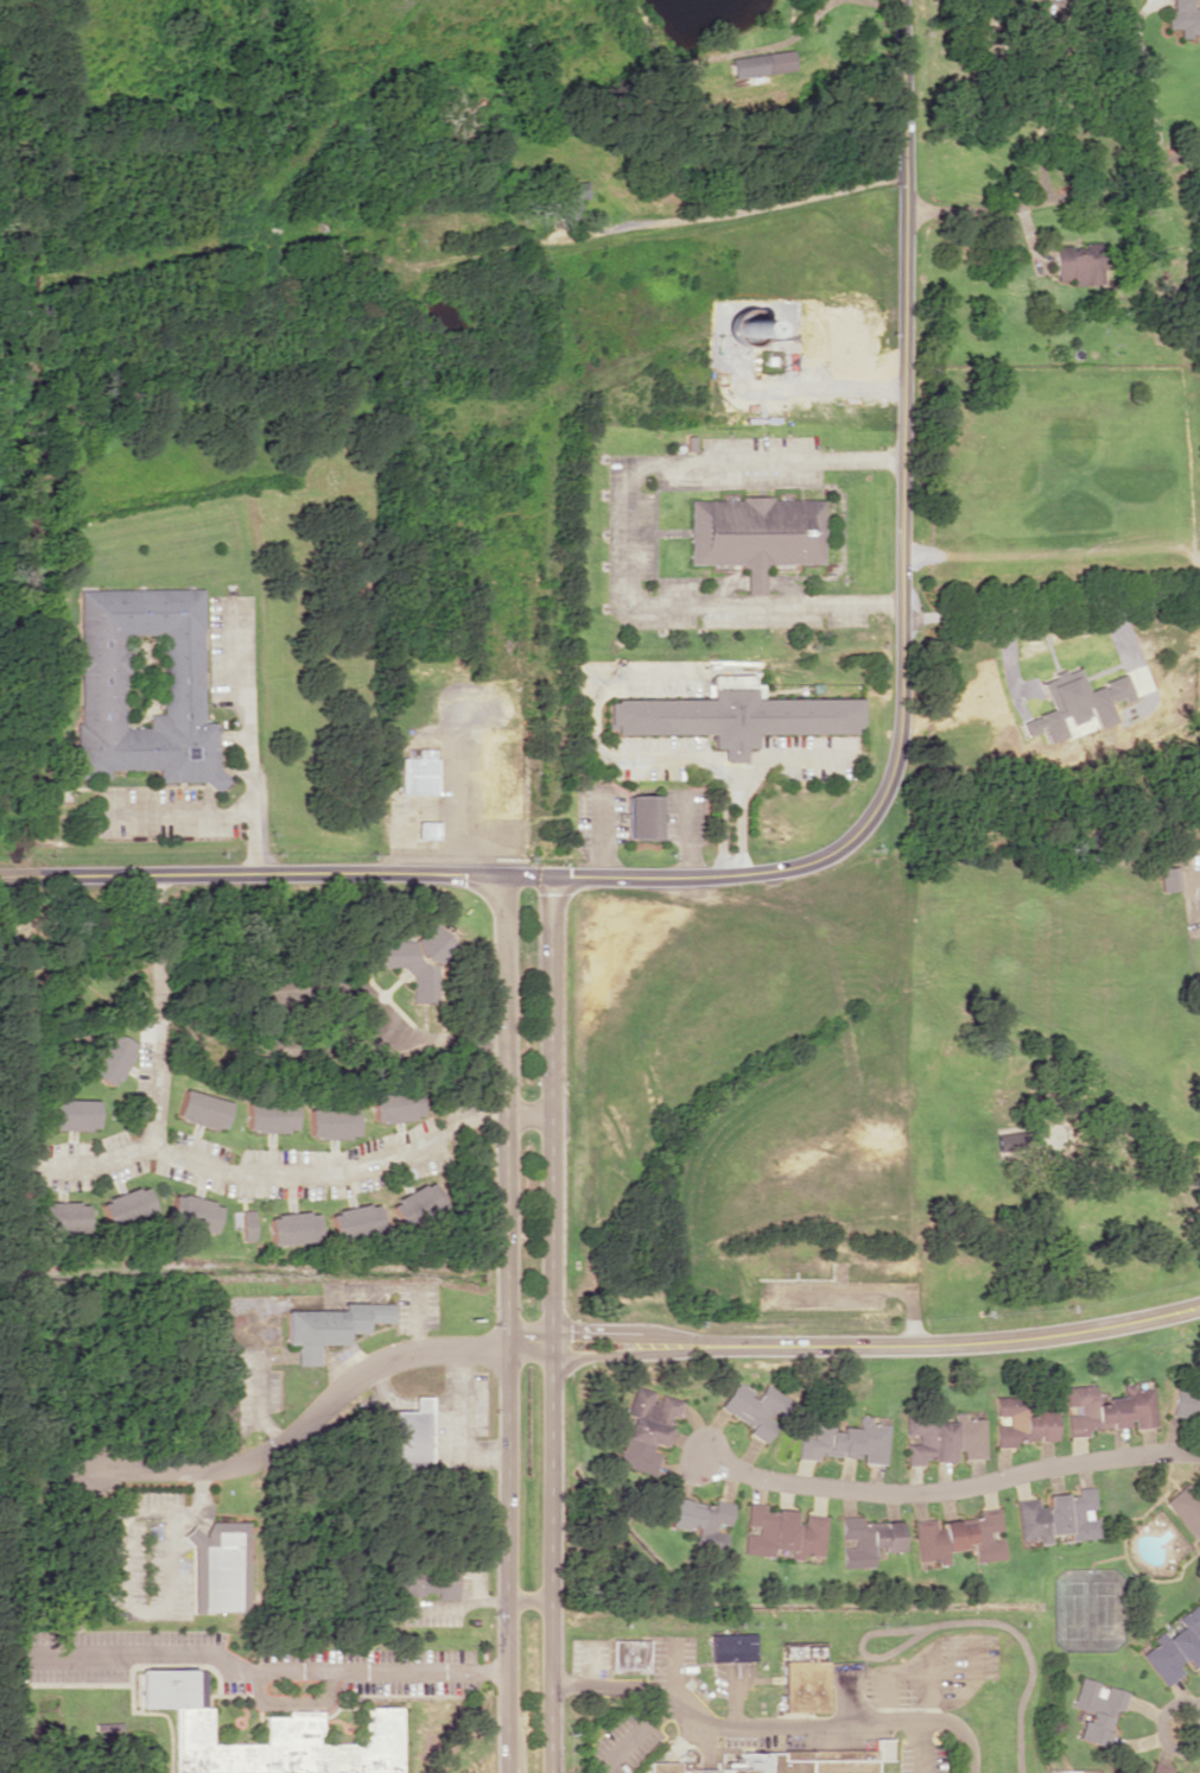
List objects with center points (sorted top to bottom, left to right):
building: (1183, 17)
building: (760, 63)
building: (572, 197)
road: (1052, 201)
road: (722, 211)
building: (1077, 264)
road: (902, 418)
building: (755, 533)
road: (1050, 607)
building: (144, 692)
building: (737, 721)
building: (420, 781)
building: (643, 816)
road: (437, 873)
traffic signals: (503, 874)
traffic signals: (551, 875)
building: (1167, 878)
building: (417, 960)
building: (110, 1058)
building: (394, 1106)
building: (201, 1108)
building: (71, 1113)
building: (268, 1116)
building: (330, 1122)
building: (1008, 1140)
building: (414, 1202)
building: (125, 1207)
building: (191, 1212)
building: (61, 1216)
building: (354, 1220)
building: (243, 1222)
building: (292, 1227)
road: (503, 1323)
road: (551, 1324)
building: (328, 1325)
road: (852, 1348)
building: (1183, 1399)
building: (753, 1407)
building: (1106, 1408)
road: (310, 1420)
building: (1020, 1423)
building: (646, 1429)
building: (411, 1435)
building: (942, 1438)
building: (842, 1439)
road: (945, 1496)
building: (1186, 1508)
building: (1058, 1515)
building: (700, 1518)
building: (781, 1532)
building: (955, 1537)
building: (865, 1539)
building: (218, 1571)
building: (424, 1583)
road: (859, 1640)
building: (730, 1647)
building: (1175, 1647)
building: (628, 1654)
road: (1023, 1654)
road: (585, 1663)
road: (671, 1665)
parking lot: (726, 1676)
building: (801, 1677)
road: (749, 1679)
road: (928, 1682)
road: (971, 1683)
park: (1011, 1689)
road: (883, 1692)
road: (730, 1695)
road: (847, 1695)
building: (1096, 1710)
road: (696, 1716)
road: (1198, 1718)
road: (926, 1721)
road: (633, 1734)
parking lot: (761, 1735)
building: (268, 1736)
road: (669, 1746)
road: (704, 1746)
road: (919, 1747)
parking lot: (921, 1758)
building: (811, 1760)
building: (672, 1768)
building: (1158, 1769)

